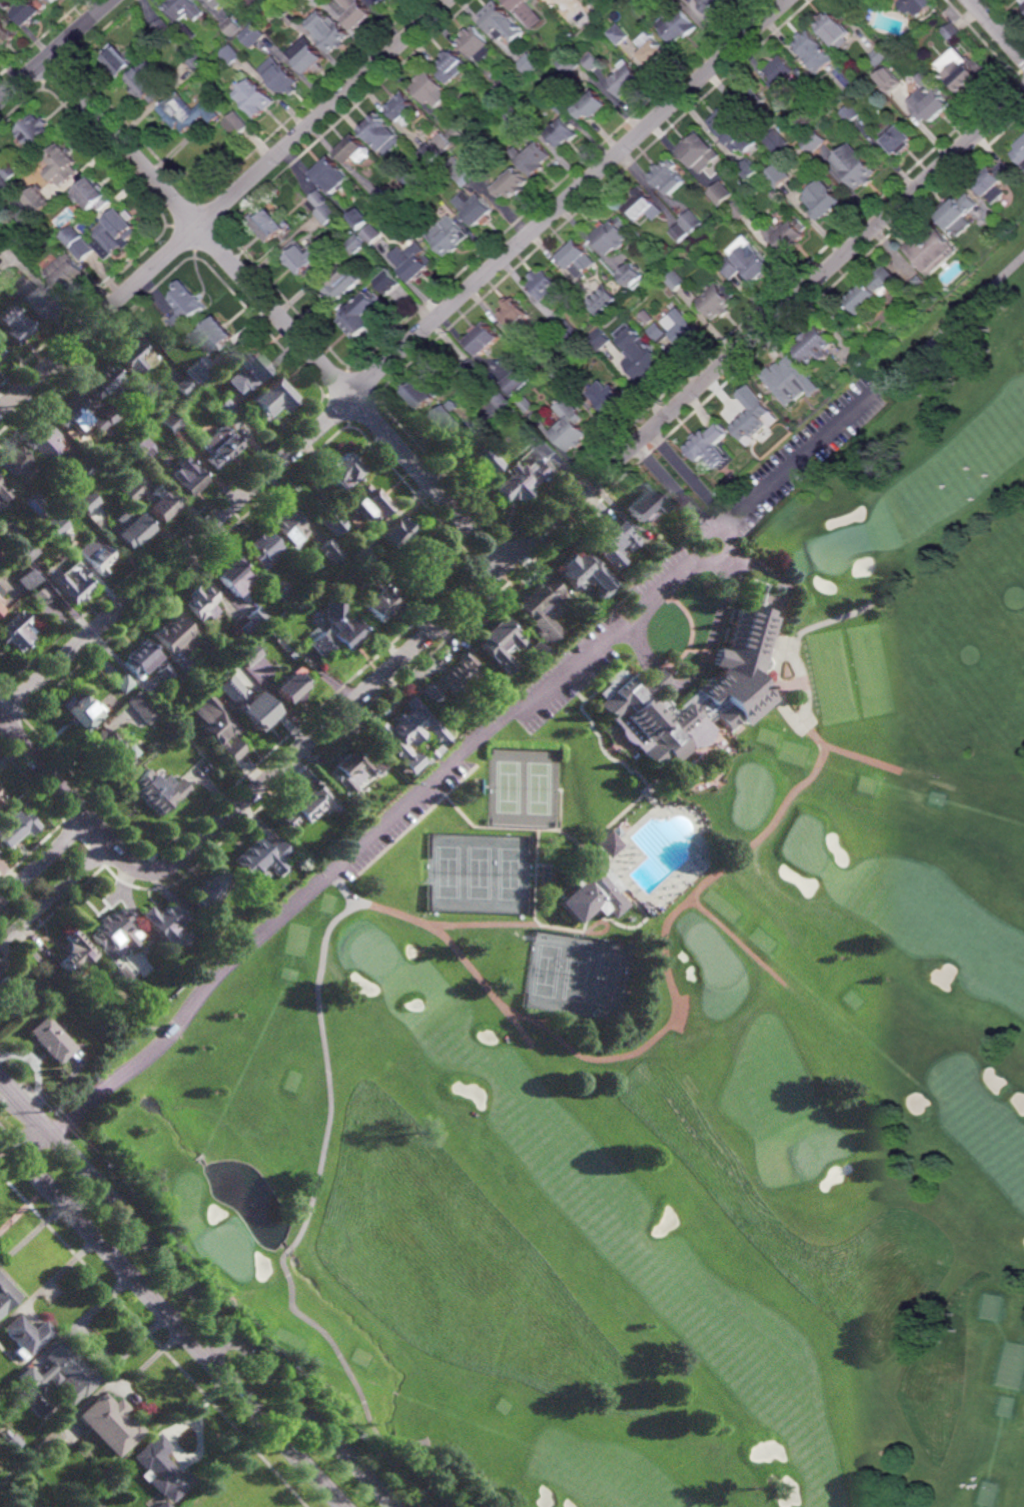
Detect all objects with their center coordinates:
building: (217, 0)
building: (55, 1)
building: (1022, 1)
building: (381, 2)
building: (252, 3)
building: (6, 4)
building: (712, 5)
building: (920, 5)
building: (1023, 6)
building: (188, 8)
building: (523, 8)
building: (282, 9)
building: (33, 10)
building: (354, 12)
building: (495, 15)
building: (940, 19)
building: (568, 20)
building: (677, 26)
building: (234, 27)
road: (998, 28)
building: (162, 29)
building: (834, 29)
building: (330, 31)
building: (952, 32)
building: (190, 33)
building: (535, 33)
building: (620, 34)
building: (7, 35)
building: (255, 35)
building: (476, 43)
road: (57, 50)
building: (652, 50)
building: (815, 51)
building: (234, 55)
building: (879, 57)
building: (125, 58)
building: (312, 58)
building: (593, 61)
building: (199, 63)
building: (570, 63)
building: (452, 66)
building: (797, 66)
building: (529, 68)
building: (780, 72)
building: (965, 75)
building: (283, 76)
building: (625, 78)
building: (889, 83)
building: (147, 85)
building: (504, 88)
building: (430, 89)
building: (751, 95)
building: (494, 97)
building: (258, 98)
building: (930, 98)
building: (560, 104)
building: (594, 106)
building: (403, 108)
building: (189, 112)
building: (852, 114)
building: (517, 118)
building: (239, 124)
building: (729, 128)
building: (563, 132)
building: (37, 134)
building: (382, 134)
building: (457, 134)
building: (899, 140)
building: (816, 142)
building: (435, 146)
building: (780, 148)
building: (353, 150)
building: (698, 151)
building: (1019, 152)
building: (533, 158)
building: (63, 165)
building: (856, 167)
building: (750, 170)
building: (459, 171)
building: (11, 172)
building: (329, 172)
building: (780, 176)
building: (667, 177)
building: (0, 180)
building: (703, 180)
building: (0, 181)
building: (993, 182)
building: (512, 185)
building: (1, 191)
building: (722, 194)
building: (776, 195)
building: (94, 196)
building: (383, 198)
building: (39, 200)
building: (824, 200)
building: (319, 201)
road: (225, 206)
building: (643, 206)
building: (475, 208)
building: (741, 210)
building: (2, 211)
building: (328, 214)
building: (956, 214)
building: (27, 216)
building: (359, 220)
building: (693, 222)
building: (272, 225)
building: (118, 229)
building: (425, 229)
building: (680, 233)
building: (373, 234)
building: (449, 235)
building: (787, 235)
building: (613, 236)
building: (72, 237)
building: (698, 239)
building: (356, 245)
building: (3, 246)
building: (930, 251)
building: (305, 258)
building: (578, 258)
building: (412, 262)
building: (747, 262)
building: (2, 273)
building: (67, 275)
building: (631, 276)
building: (675, 281)
building: (918, 281)
building: (390, 283)
building: (340, 286)
building: (548, 288)
building: (872, 293)
building: (606, 301)
building: (34, 302)
building: (718, 302)
building: (188, 306)
road: (274, 310)
building: (516, 315)
building: (647, 318)
building: (359, 324)
building: (682, 329)
building: (11, 331)
building: (570, 332)
building: (657, 333)
building: (218, 335)
building: (484, 340)
building: (600, 340)
building: (160, 344)
building: (816, 347)
building: (528, 351)
building: (130, 356)
building: (642, 357)
road: (393, 359)
building: (536, 363)
building: (472, 368)
building: (243, 371)
building: (560, 372)
building: (192, 377)
building: (517, 382)
building: (102, 383)
building: (793, 383)
building: (182, 386)
building: (420, 396)
building: (609, 397)
building: (272, 398)
building: (501, 401)
building: (527, 405)
building: (223, 408)
building: (747, 409)
building: (69, 410)
building: (511, 410)
building: (109, 413)
building: (233, 419)
building: (450, 419)
building: (169, 421)
building: (98, 422)
building: (570, 424)
building: (107, 431)
building: (39, 438)
building: (711, 444)
building: (218, 445)
building: (141, 447)
building: (481, 458)
building: (11, 459)
building: (338, 466)
building: (527, 471)
building: (183, 474)
road: (589, 482)
building: (2, 493)
building: (147, 496)
building: (85, 499)
building: (368, 500)
building: (644, 501)
building: (33, 503)
road: (712, 518)
building: (329, 520)
building: (287, 524)
road: (718, 524)
building: (57, 527)
building: (128, 527)
building: (394, 530)
building: (12, 535)
building: (602, 535)
building: (68, 544)
building: (261, 546)
building: (328, 549)
building: (24, 550)
building: (360, 552)
building: (93, 553)
building: (0, 556)
building: (424, 562)
building: (232, 573)
building: (316, 576)
building: (596, 576)
building: (26, 578)
building: (332, 578)
building: (403, 578)
road: (782, 583)
building: (69, 584)
building: (279, 588)
building: (1, 591)
building: (39, 594)
building: (371, 598)
building: (2, 600)
building: (200, 600)
building: (539, 606)
building: (255, 616)
building: (241, 623)
road: (712, 628)
building: (14, 629)
building: (334, 629)
building: (173, 639)
building: (496, 641)
road: (636, 645)
building: (536, 651)
building: (215, 653)
building: (246, 653)
building: (144, 659)
road: (655, 675)
building: (460, 678)
building: (121, 682)
building: (289, 684)
building: (696, 687)
road: (532, 690)
building: (246, 702)
building: (140, 707)
building: (78, 710)
building: (217, 725)
building: (409, 733)
building: (111, 749)
road: (852, 754)
building: (353, 766)
road: (32, 785)
building: (477, 785)
building: (525, 787)
park: (525, 787)
building: (157, 790)
building: (0, 798)
road: (74, 801)
building: (308, 805)
building: (9, 828)
building: (600, 842)
road: (84, 843)
road: (32, 851)
road: (44, 859)
building: (261, 859)
road: (720, 868)
building: (479, 872)
park: (479, 872)
building: (545, 874)
road: (341, 888)
building: (209, 889)
building: (593, 892)
road: (56, 893)
road: (51, 912)
building: (520, 916)
building: (162, 920)
road: (484, 924)
road: (430, 926)
building: (113, 934)
building: (74, 953)
building: (578, 974)
park: (578, 974)
building: (11, 995)
park: (666, 1023)
building: (48, 1040)
road: (23, 1115)
road: (31, 1232)
road: (57, 1274)
road: (196, 1292)
building: (6, 1294)
road: (171, 1320)
building: (25, 1335)
road: (328, 1339)
road: (152, 1341)
building: (61, 1373)
road: (193, 1418)
building: (108, 1423)
building: (13, 1441)
building: (159, 1472)
building: (161, 1504)

